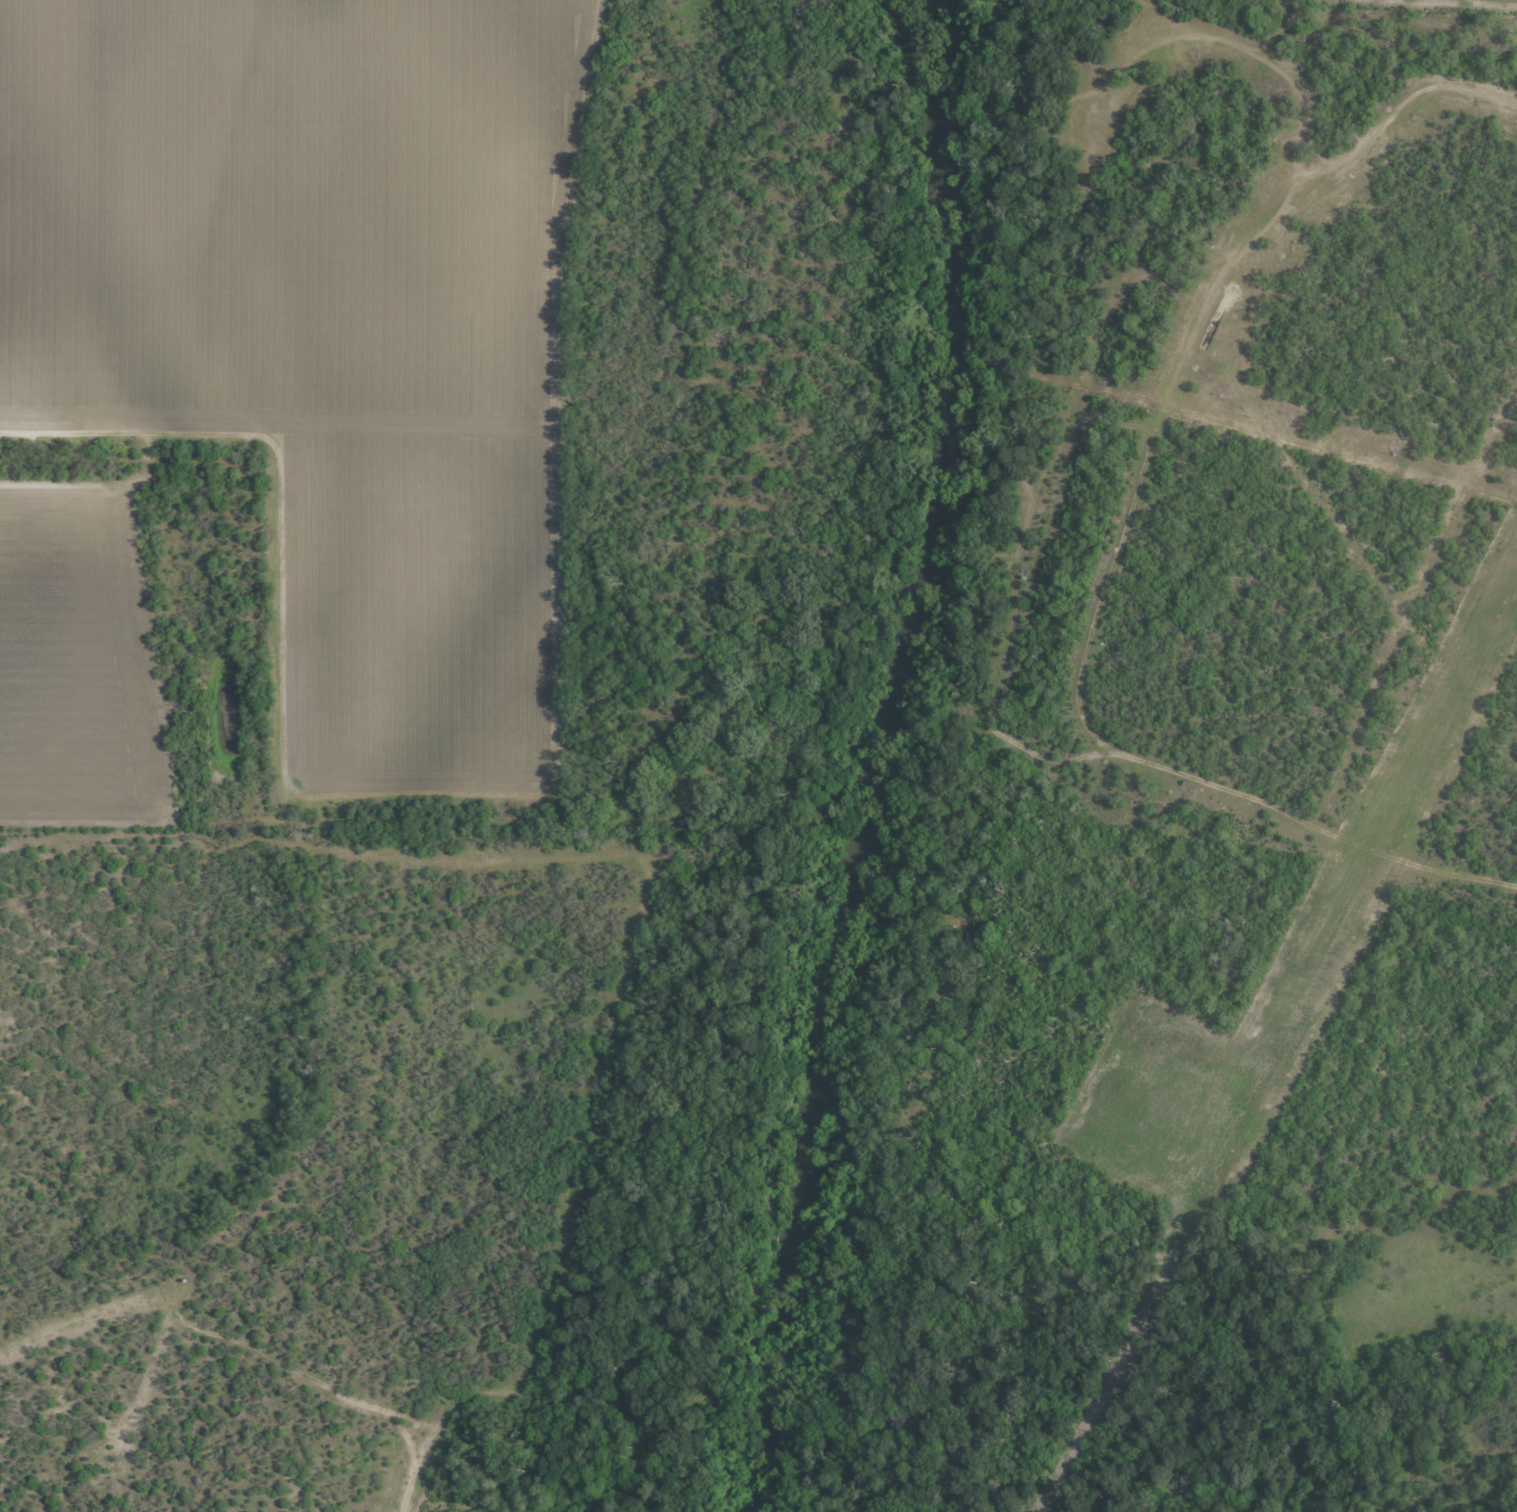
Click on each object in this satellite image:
river: (886, 752)

